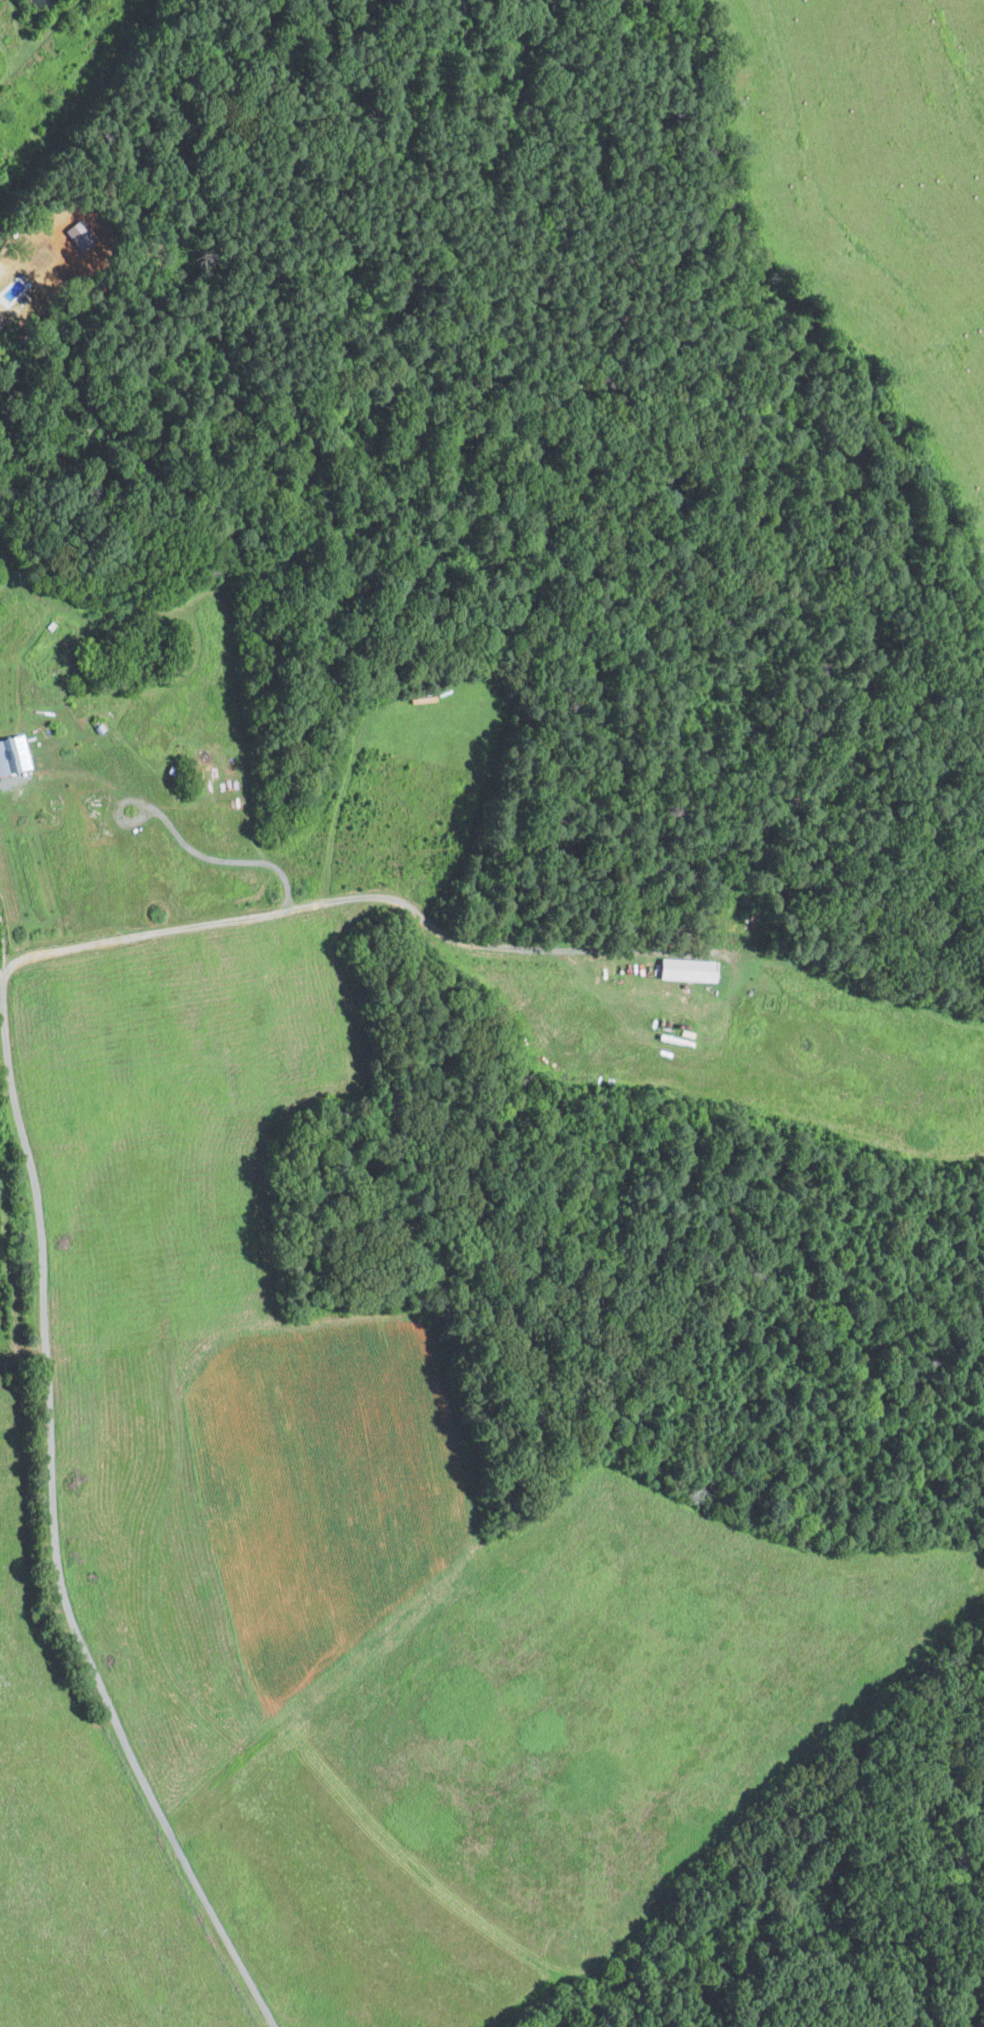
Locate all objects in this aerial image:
building: (0, 262)
building: (1, 320)
building: (49, 625)
building: (181, 633)
building: (99, 727)
building: (13, 751)
building: (200, 768)
road: (191, 849)
road: (621, 949)
road: (1, 952)
building: (687, 968)
road: (39, 1228)

